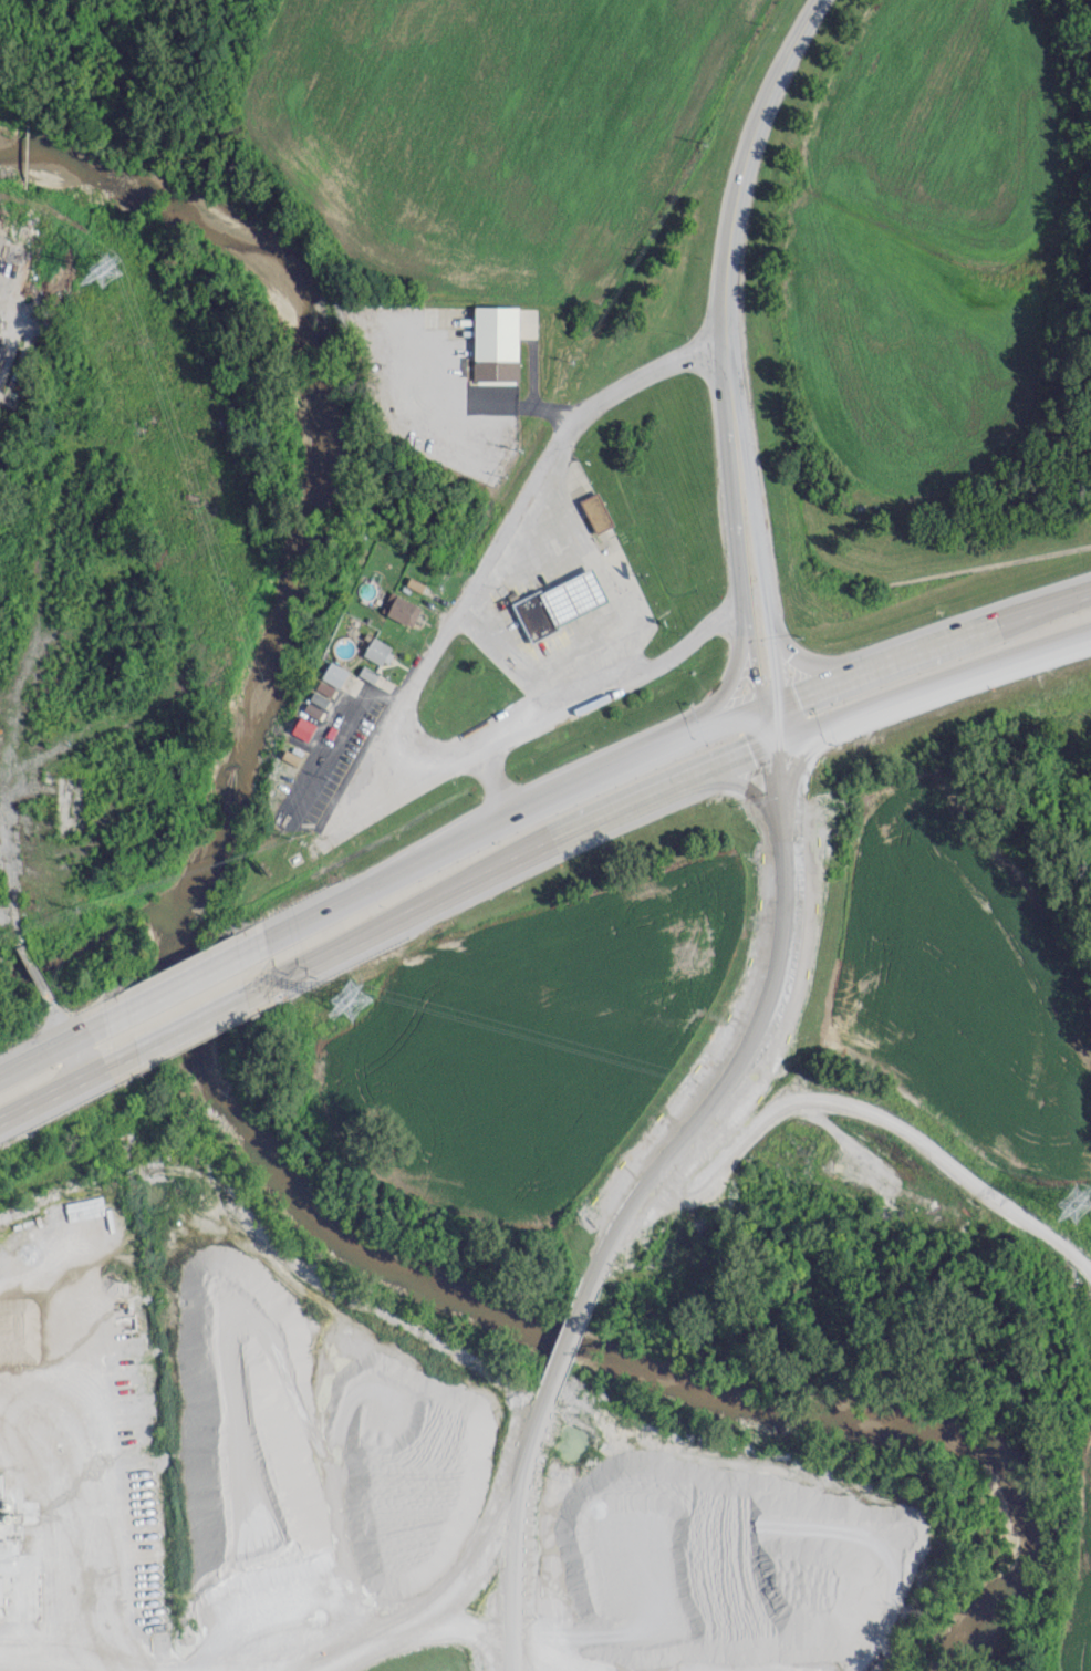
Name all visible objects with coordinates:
road: (748, 164)
power tower: (103, 271)
building: (496, 342)
road: (731, 374)
road: (515, 486)
building: (599, 512)
road: (500, 547)
road: (607, 572)
road: (763, 574)
road: (745, 575)
building: (576, 596)
gas station: (576, 596)
building: (401, 608)
building: (538, 615)
building: (378, 650)
road: (517, 654)
road: (895, 658)
building: (334, 673)
building: (367, 673)
building: (324, 687)
road: (718, 696)
building: (315, 704)
road: (545, 714)
building: (303, 727)
road: (498, 782)
road: (740, 787)
road: (659, 792)
road: (468, 840)
road: (12, 926)
road: (35, 973)
road: (178, 982)
power tower: (347, 996)
road: (59, 1020)
road: (189, 1021)
road: (60, 1041)
road: (76, 1056)
road: (64, 1083)
road: (870, 1115)
road: (638, 1197)
power tower: (1072, 1201)
quarry: (366, 1483)

